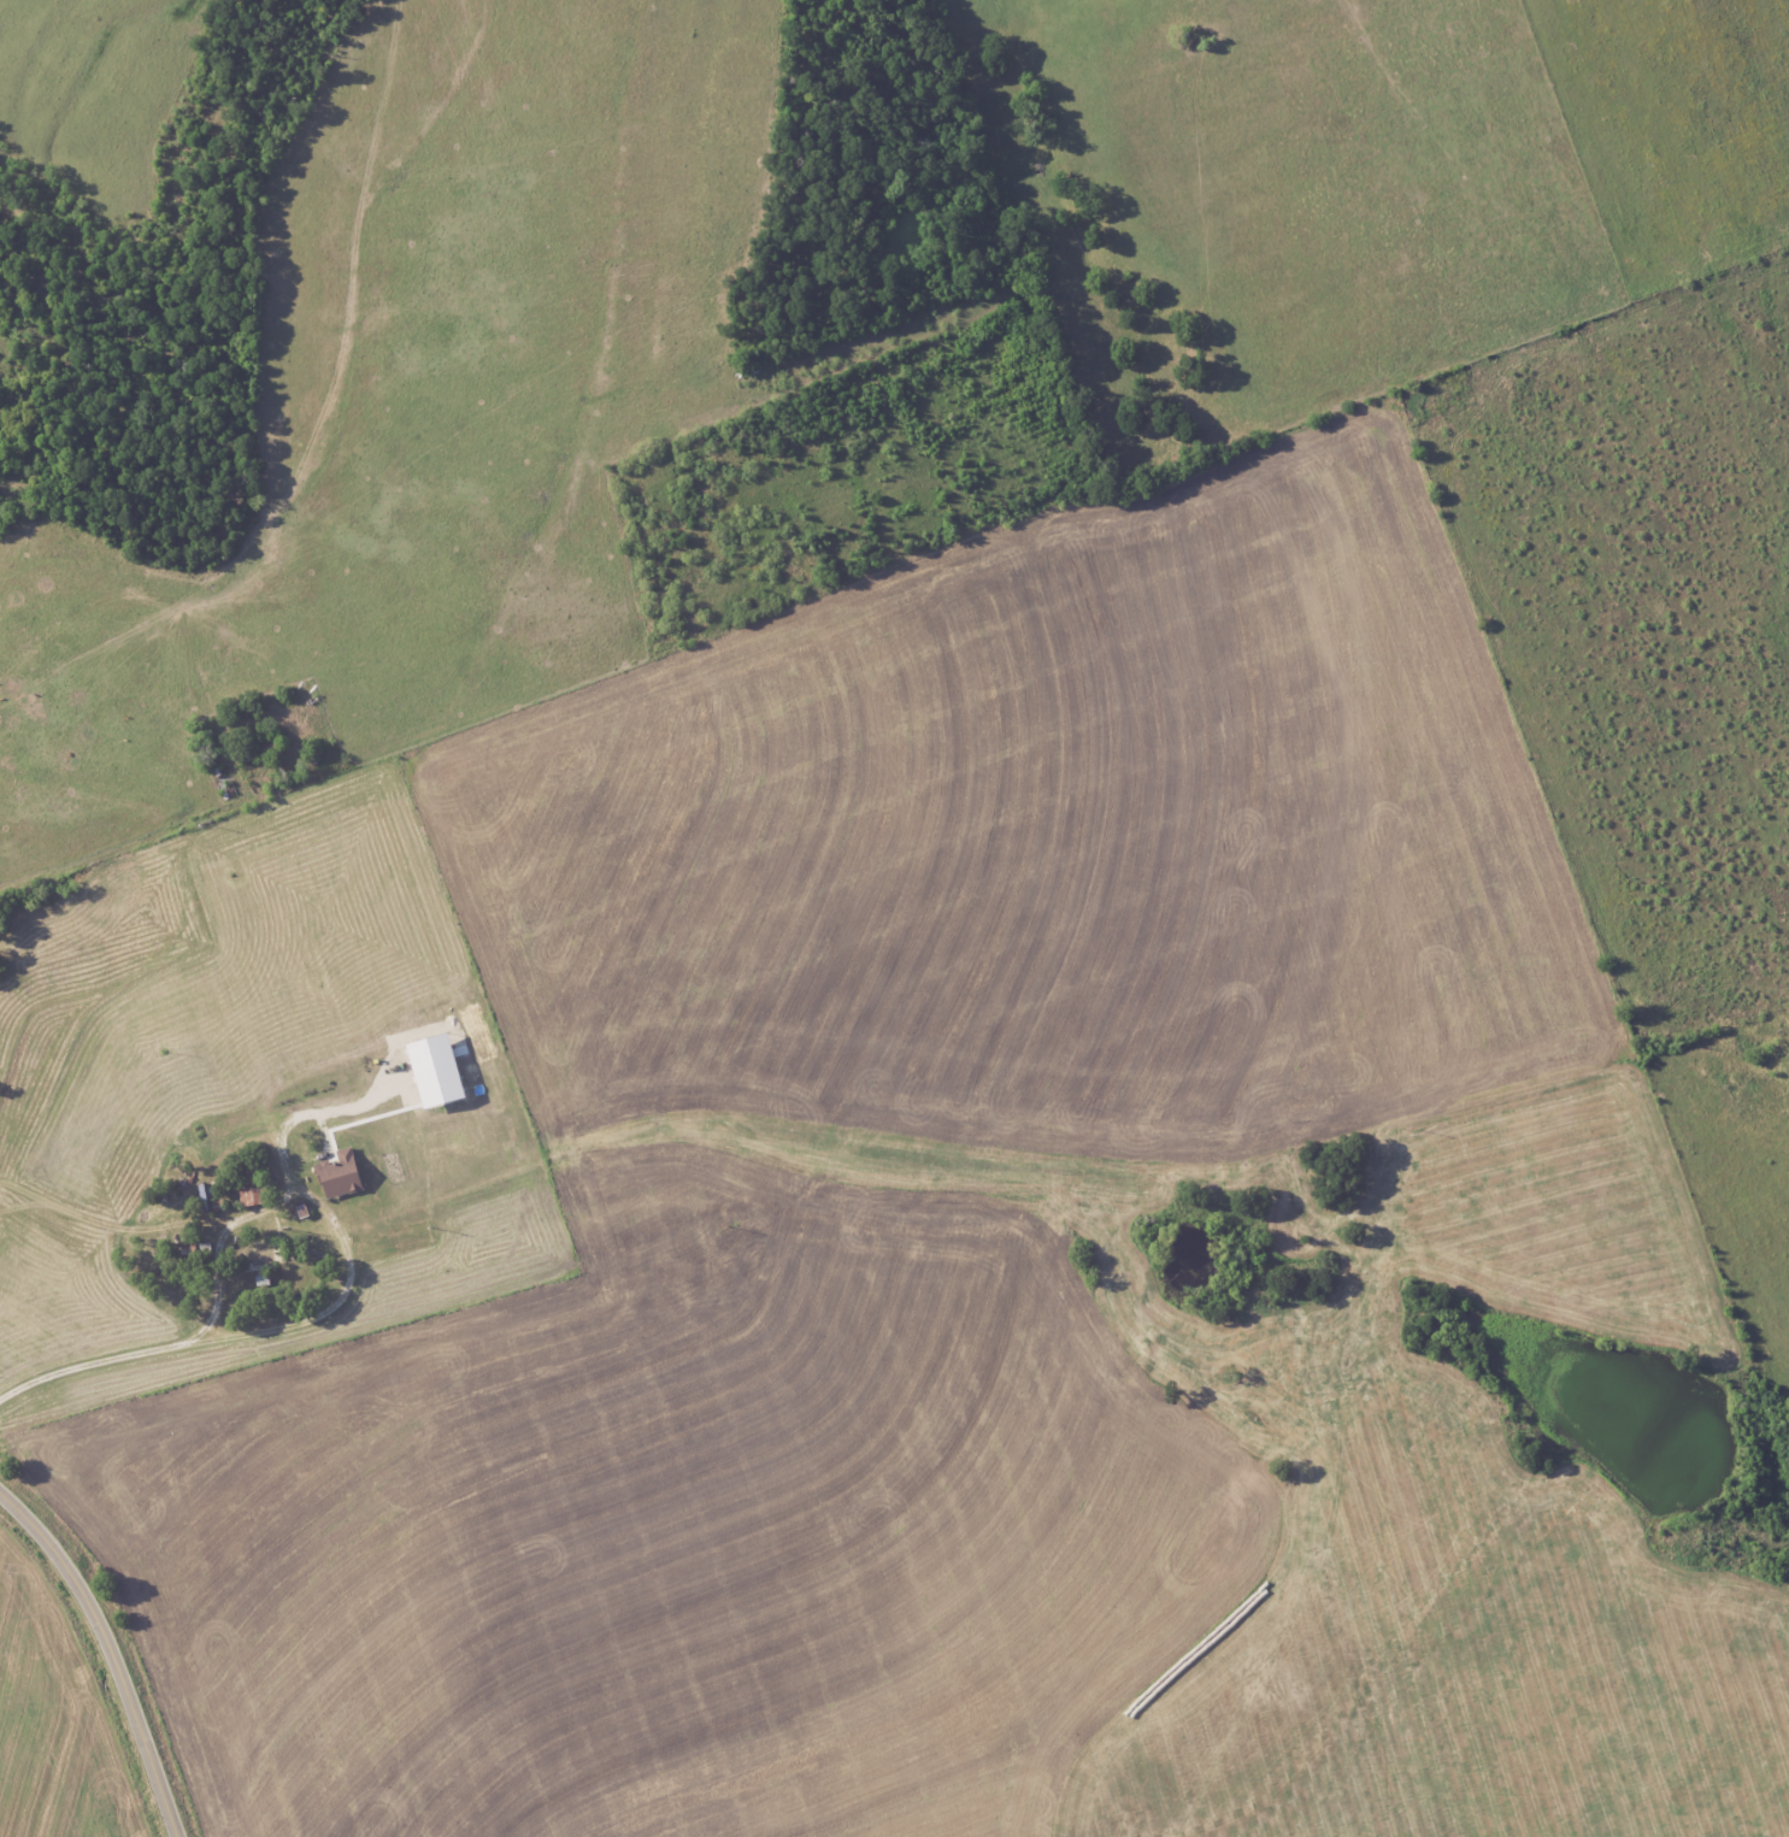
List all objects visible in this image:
building: (435, 1067)
road: (300, 1117)
building: (336, 1174)
road: (331, 1217)
road: (90, 1364)
road: (111, 1651)

